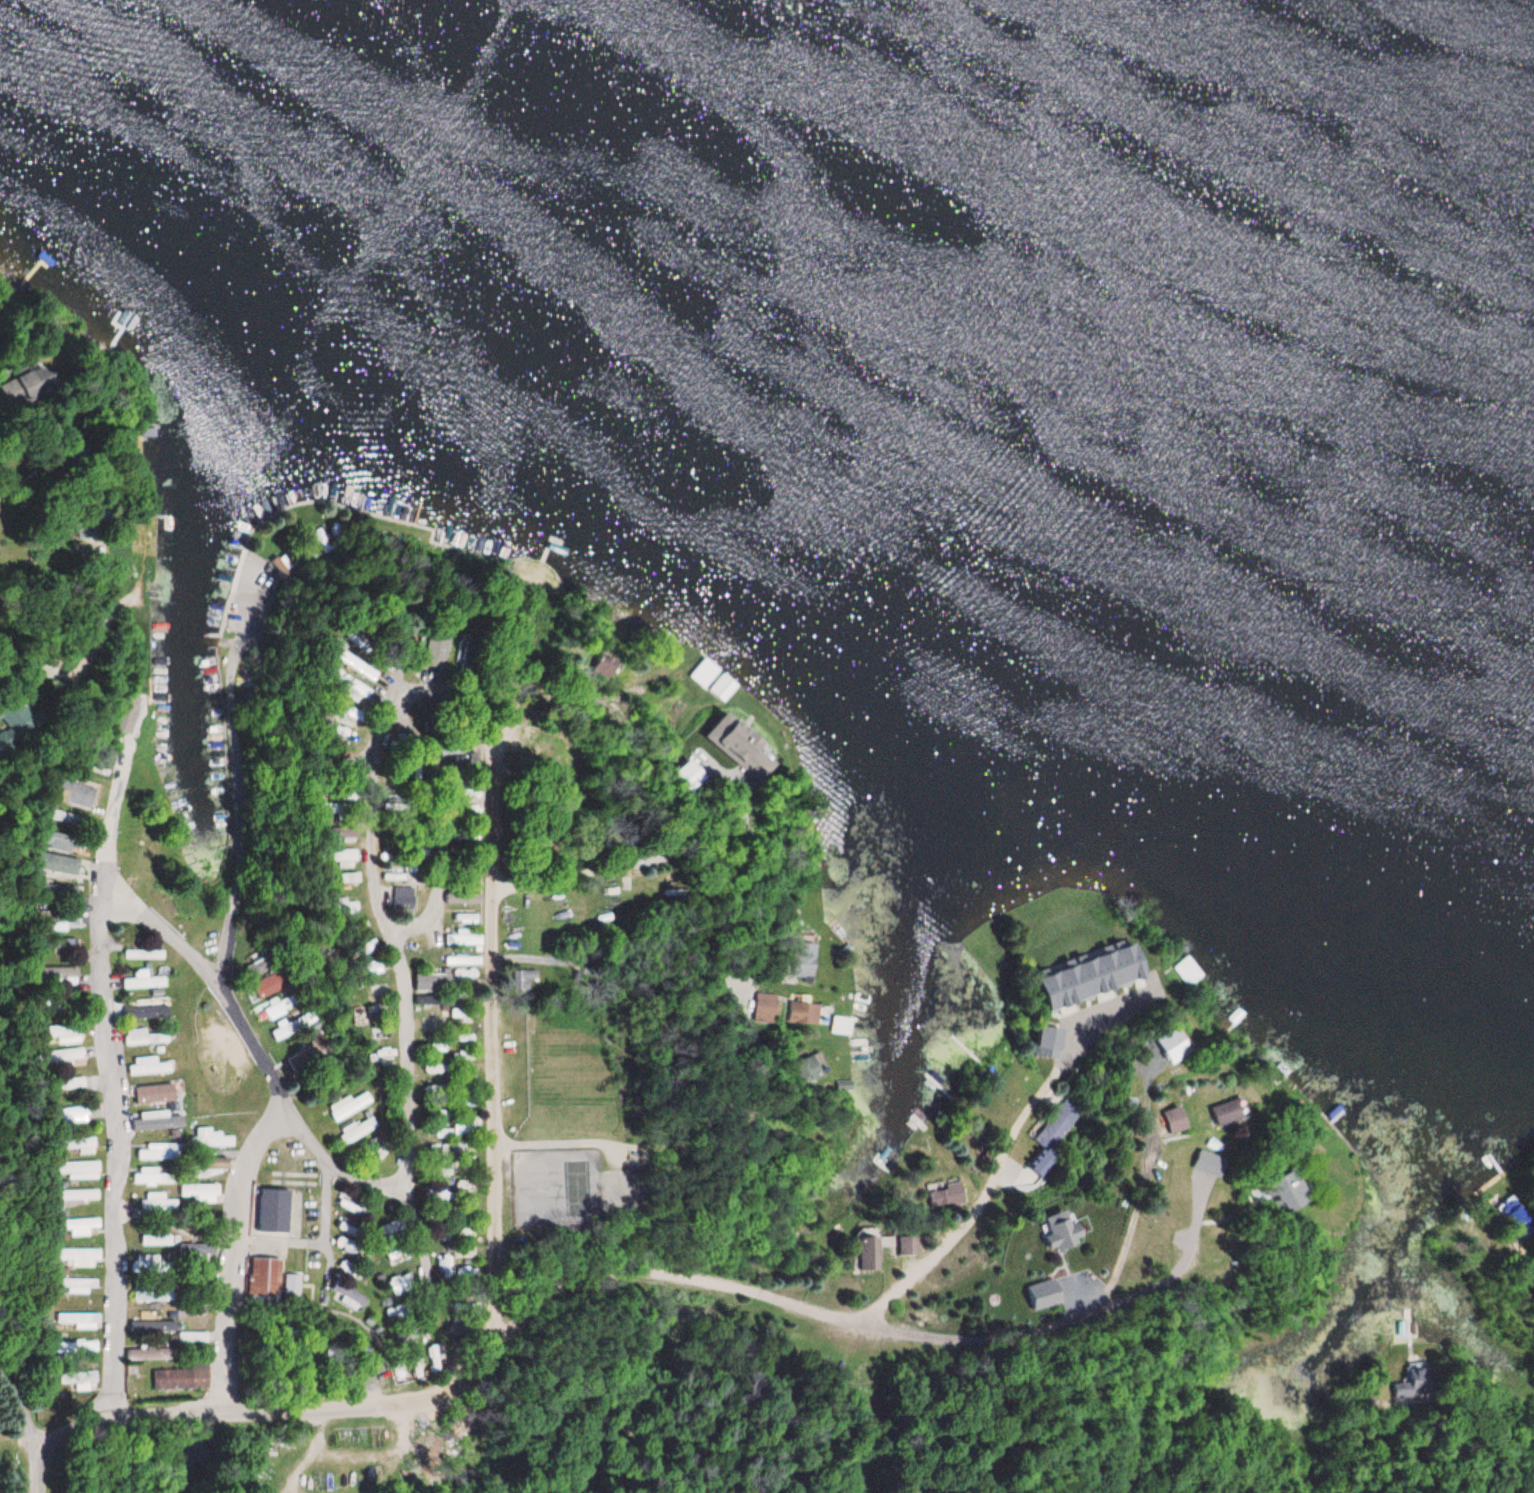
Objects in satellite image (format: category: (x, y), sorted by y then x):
river: (1279, 151)
building: (148, 432)
road: (22, 488)
road: (43, 606)
road: (243, 618)
building: (360, 640)
building: (438, 645)
building: (358, 664)
building: (707, 671)
road: (419, 687)
building: (354, 688)
building: (722, 688)
road: (303, 710)
building: (350, 714)
building: (14, 717)
building: (734, 740)
building: (453, 748)
building: (102, 760)
building: (72, 791)
road: (497, 797)
building: (63, 817)
building: (346, 832)
road: (597, 833)
building: (344, 854)
building: (57, 864)
building: (349, 877)
building: (58, 891)
building: (406, 893)
building: (464, 897)
road: (231, 900)
building: (346, 907)
building: (57, 919)
building: (463, 940)
road: (396, 953)
building: (142, 954)
building: (461, 960)
road: (617, 961)
building: (804, 961)
building: (257, 966)
building: (1186, 971)
building: (464, 972)
building: (55, 973)
building: (525, 979)
building: (142, 980)
building: (269, 985)
building: (447, 987)
building: (278, 1007)
building: (765, 1008)
building: (145, 1010)
building: (803, 1014)
building: (840, 1025)
building: (282, 1031)
building: (59, 1033)
building: (141, 1037)
building: (1171, 1044)
building: (304, 1061)
building: (147, 1066)
building: (810, 1068)
building: (67, 1083)
road: (116, 1087)
building: (152, 1094)
building: (348, 1105)
building: (1229, 1112)
building: (71, 1115)
building: (1175, 1119)
building: (156, 1123)
building: (1056, 1126)
building: (357, 1129)
building: (209, 1139)
building: (77, 1145)
road: (491, 1149)
building: (152, 1151)
building: (1210, 1163)
building: (210, 1166)
building: (76, 1170)
building: (141, 1178)
building: (165, 1178)
park: (577, 1185)
building: (1289, 1191)
building: (198, 1193)
building: (75, 1194)
building: (943, 1194)
building: (156, 1203)
building: (272, 1210)
building: (1514, 1218)
building: (76, 1225)
building: (1059, 1230)
building: (154, 1239)
building: (905, 1245)
building: (203, 1250)
building: (866, 1253)
building: (78, 1256)
road: (230, 1257)
building: (149, 1264)
building: (262, 1280)
building: (75, 1282)
building: (398, 1285)
building: (196, 1288)
building: (290, 1288)
building: (152, 1293)
building: (348, 1296)
road: (764, 1296)
building: (78, 1320)
building: (151, 1325)
building: (191, 1337)
building: (74, 1348)
building: (149, 1354)
building: (181, 1378)
building: (75, 1379)
road: (15, 1394)
road: (206, 1419)
road: (34, 1462)

